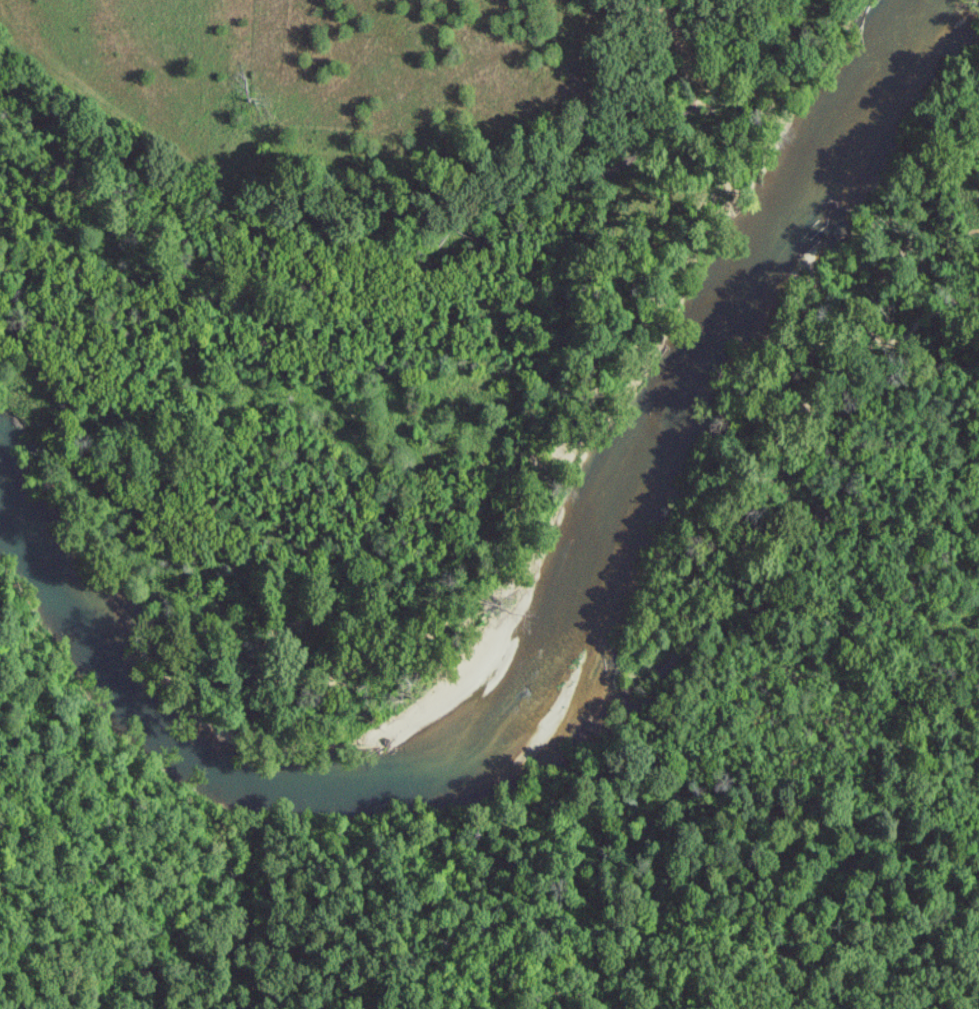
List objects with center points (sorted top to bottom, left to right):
river: (541, 647)

